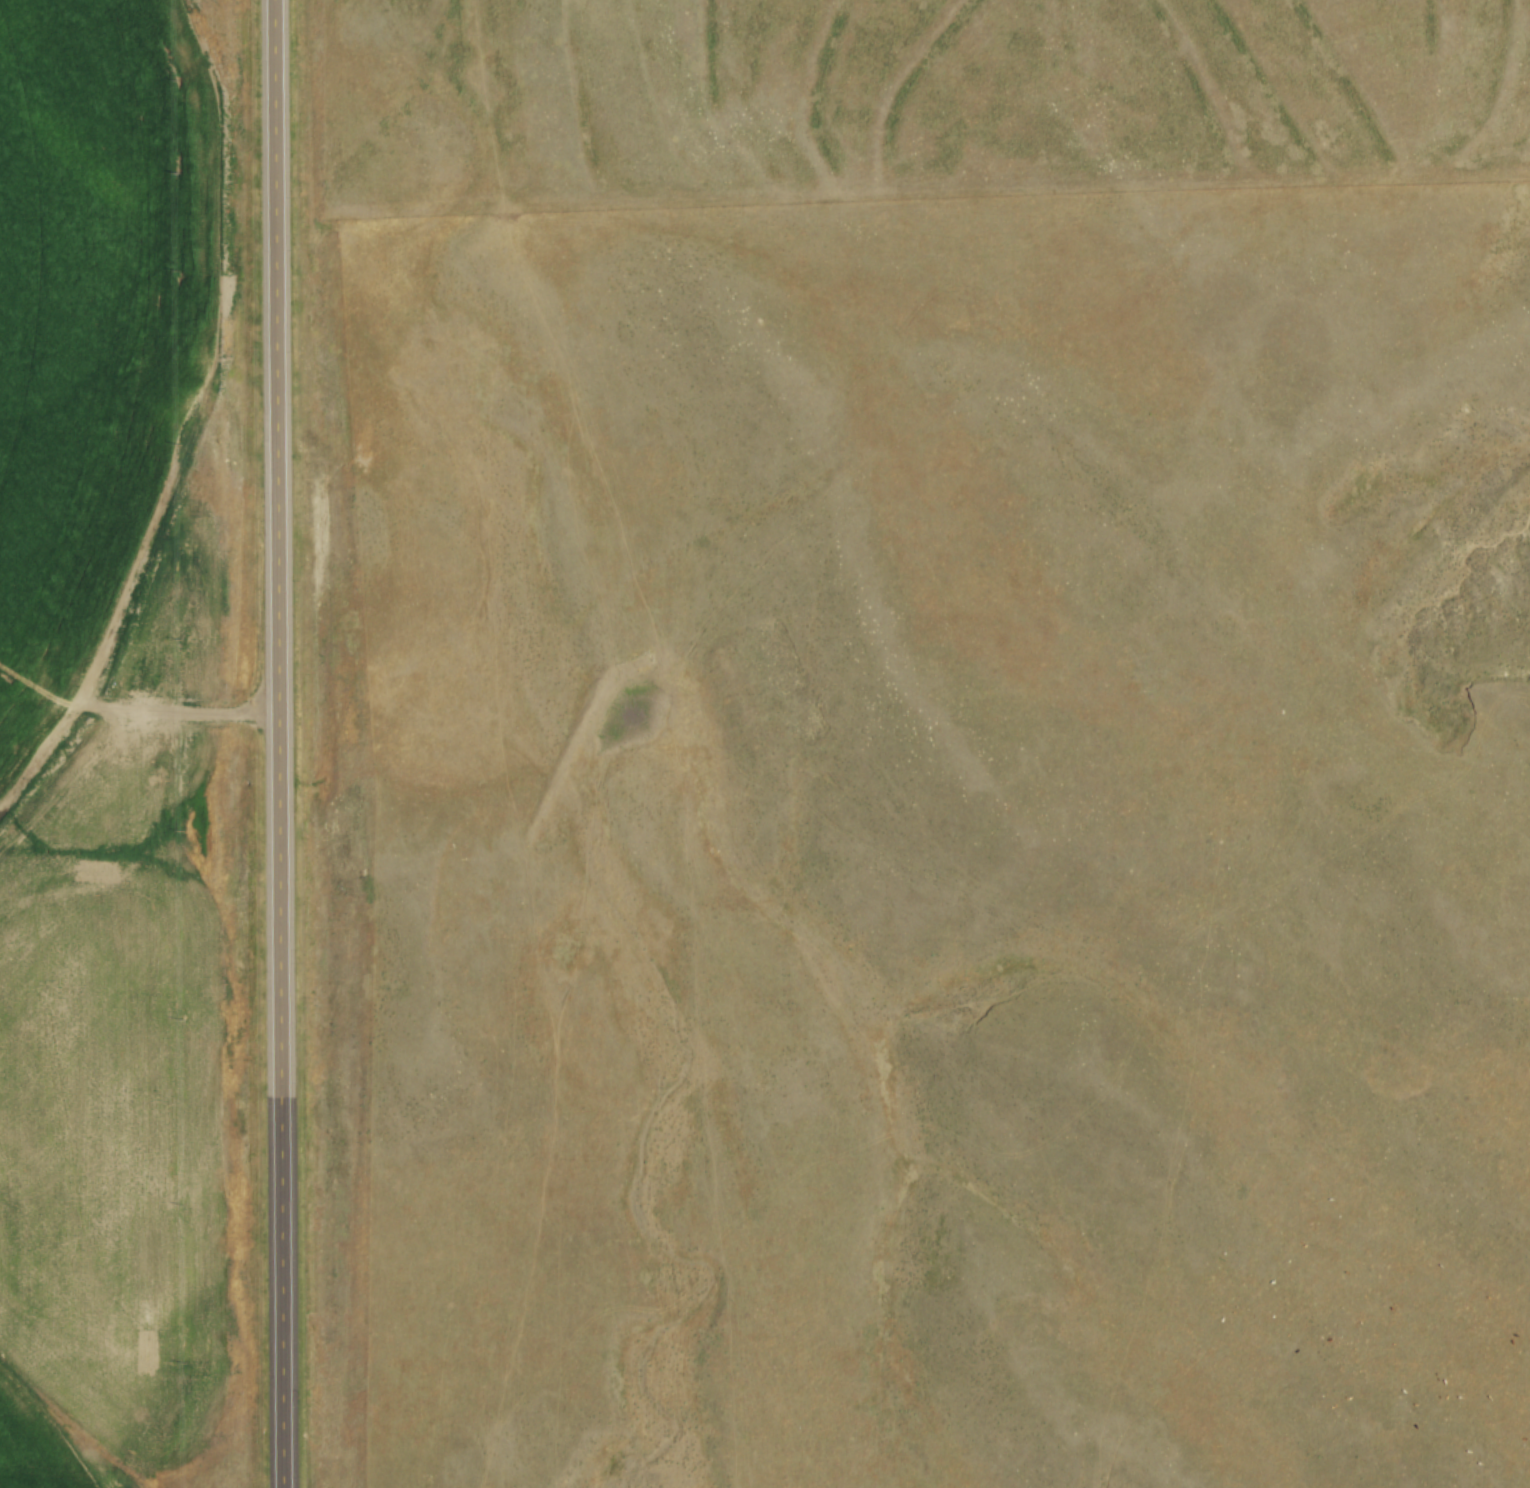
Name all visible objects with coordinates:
crop: (111, 740)
road: (270, 743)

